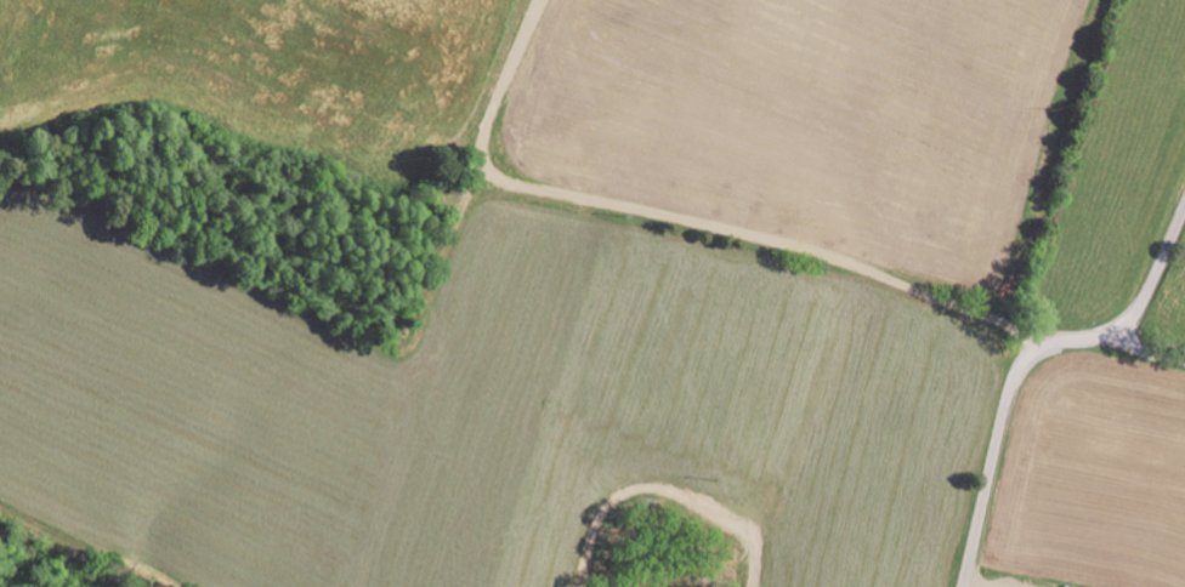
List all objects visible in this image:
road: (1162, 312)
road: (1027, 360)

